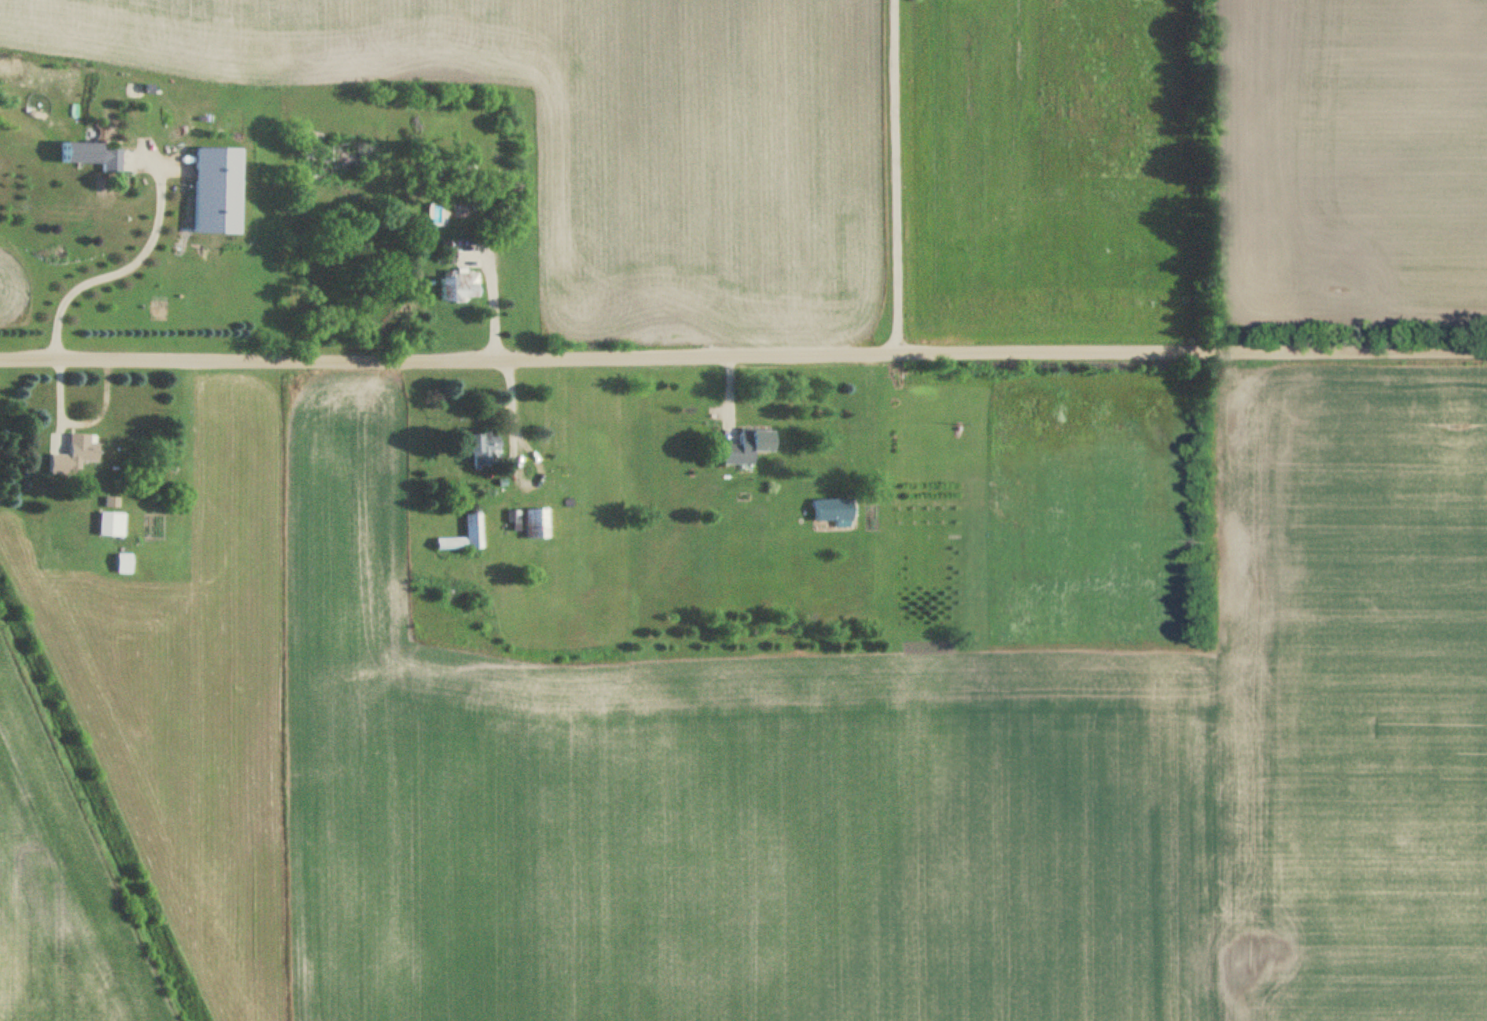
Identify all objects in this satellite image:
building: (87, 155)
building: (319, 166)
road: (895, 174)
building: (208, 190)
building: (443, 253)
road: (124, 264)
building: (452, 287)
road: (743, 350)
building: (741, 442)
building: (475, 448)
building: (69, 451)
building: (830, 505)
building: (106, 516)
building: (531, 520)
building: (458, 533)
building: (119, 561)

